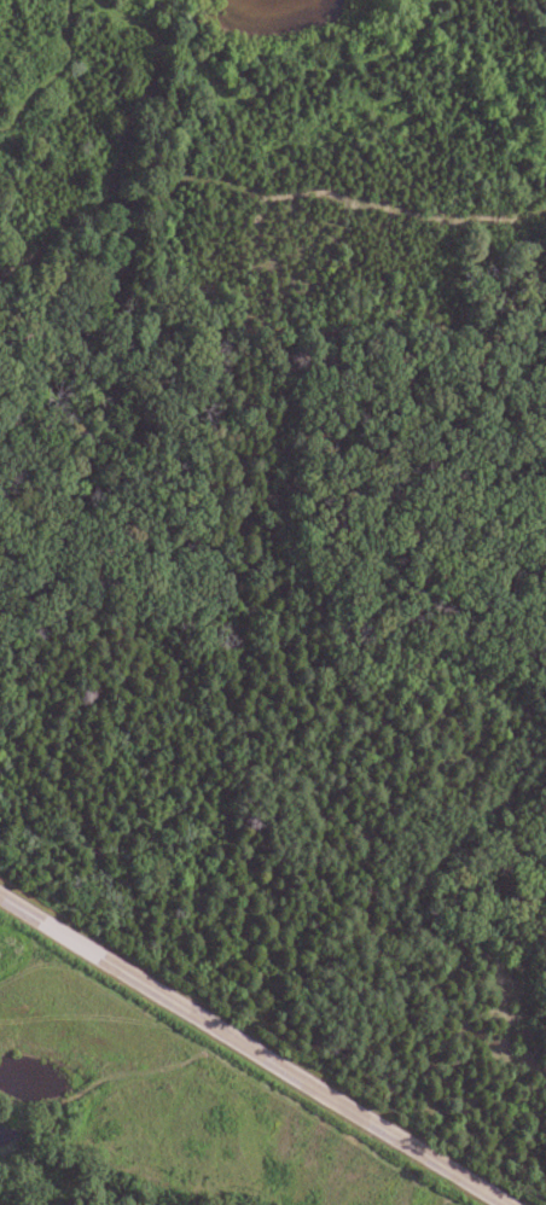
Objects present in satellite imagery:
road: (256, 1046)

